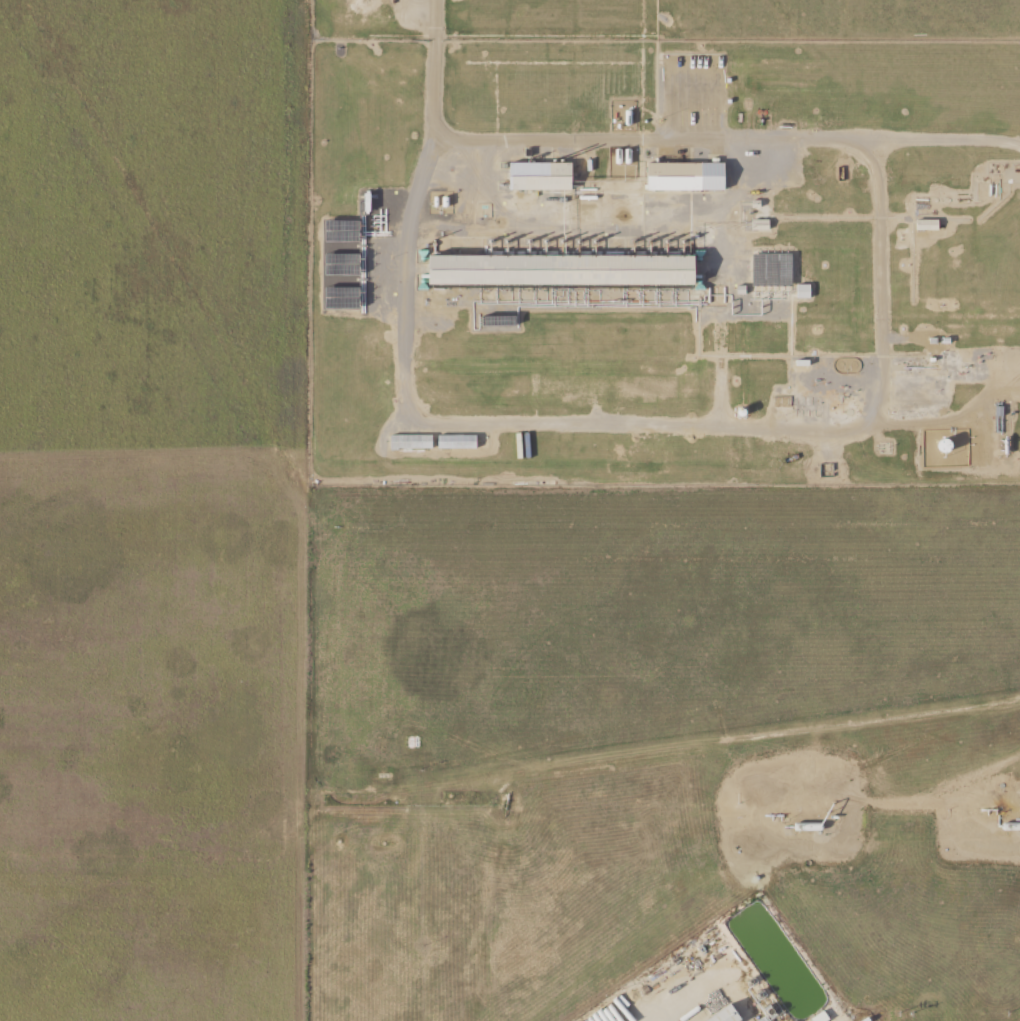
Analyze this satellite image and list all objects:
road: (434, 75)
building: (539, 177)
building: (685, 177)
building: (560, 271)
building: (802, 292)
road: (884, 384)
building: (409, 442)
building: (456, 442)
building: (725, 1015)

